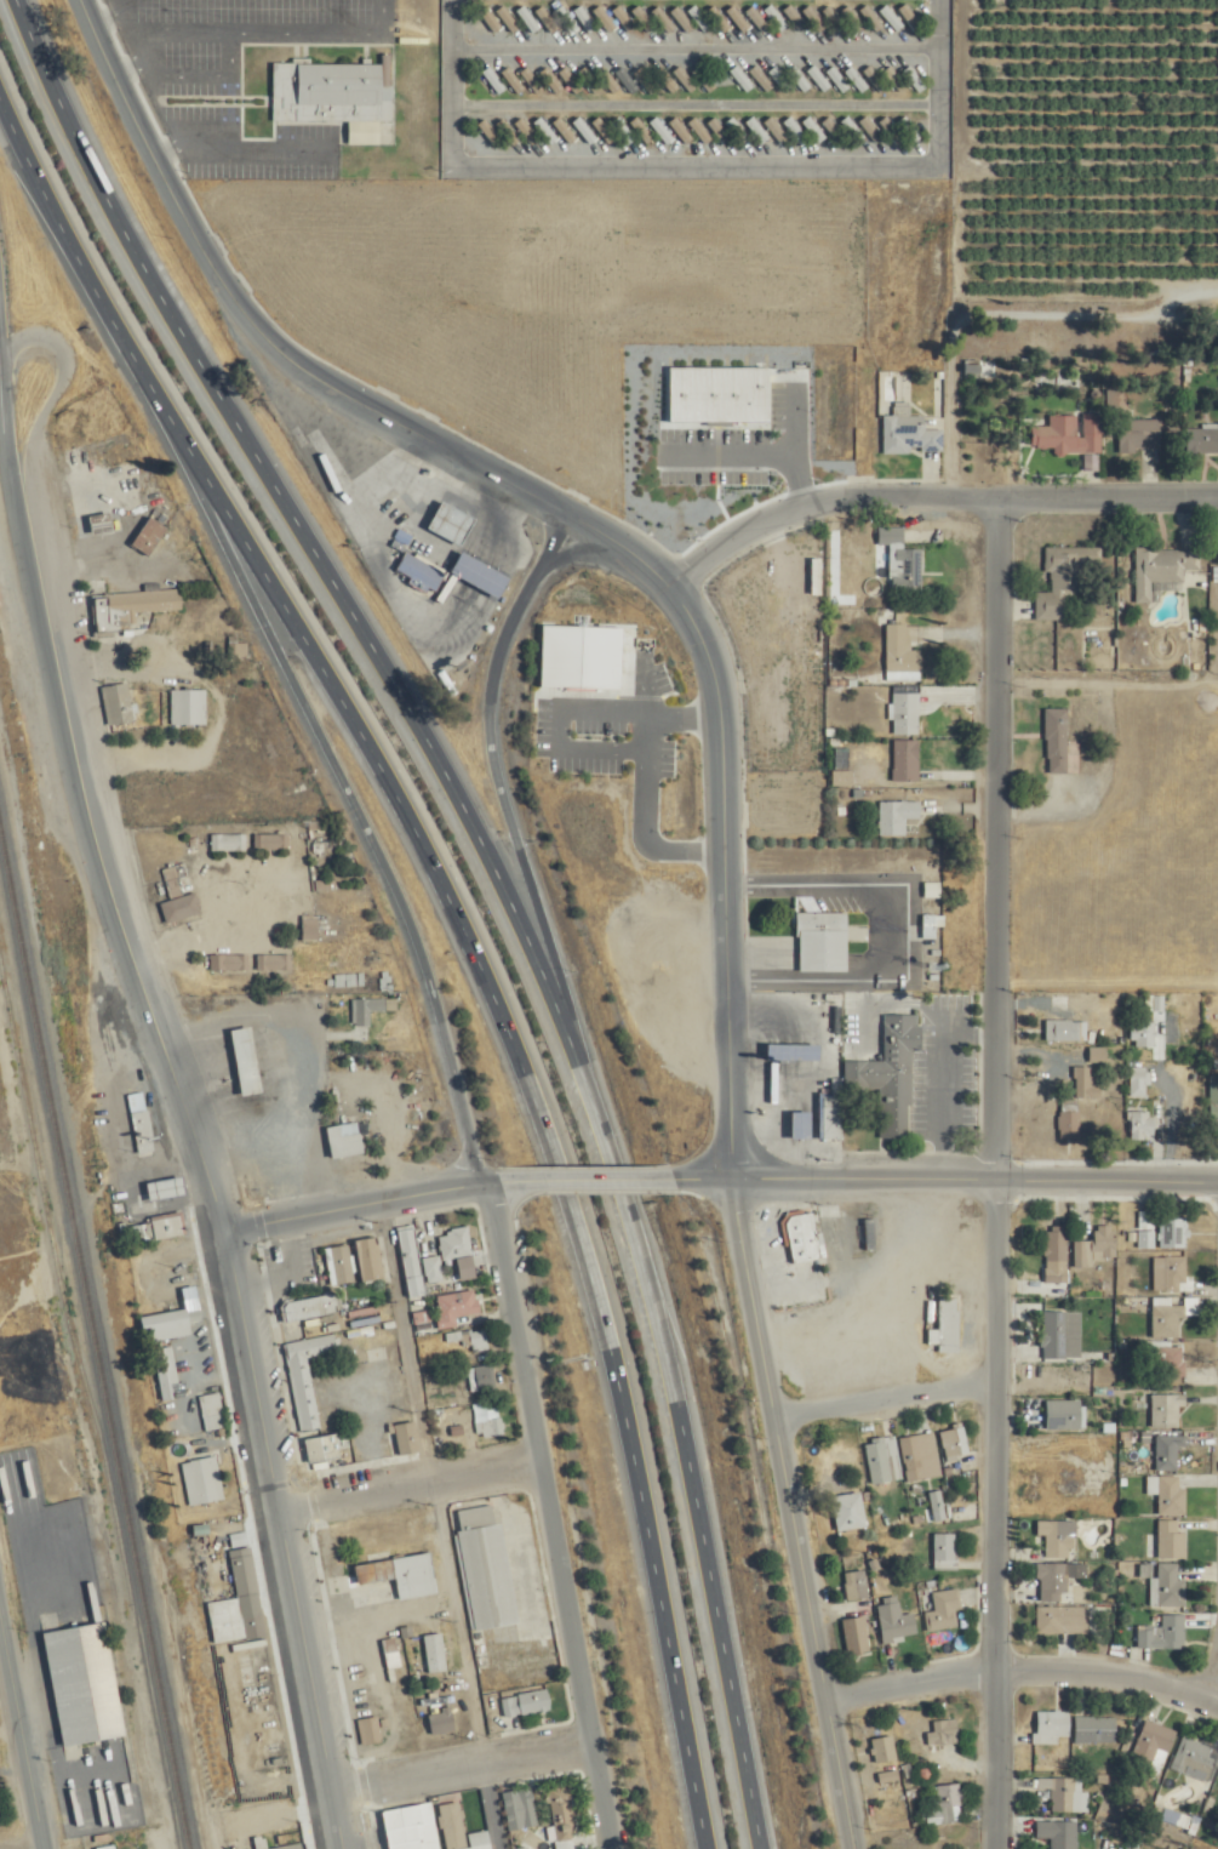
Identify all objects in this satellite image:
building: (777, 17)
building: (699, 18)
building: (740, 28)
building: (743, 79)
building: (858, 79)
crop: (1099, 85)
park: (280, 89)
building: (333, 92)
building: (776, 130)
building: (796, 130)
building: (707, 141)
road: (697, 167)
road: (76, 239)
road: (4, 319)
road: (255, 321)
road: (1014, 323)
road: (58, 396)
building: (910, 433)
building: (1138, 435)
building: (1065, 438)
building: (1201, 439)
road: (10, 444)
road: (927, 486)
building: (99, 524)
building: (448, 524)
road: (610, 532)
building: (148, 537)
road: (593, 552)
flagpole: (439, 555)
building: (902, 558)
road: (656, 570)
building: (1162, 570)
building: (419, 571)
building: (475, 576)
building: (1065, 578)
building: (133, 606)
building: (241, 650)
building: (904, 652)
building: (120, 703)
building: (190, 707)
road: (573, 711)
building: (907, 713)
building: (1057, 740)
building: (907, 760)
road: (342, 772)
road: (644, 787)
road: (508, 795)
building: (898, 816)
road: (995, 831)
building: (230, 841)
building: (274, 841)
building: (324, 846)
road: (722, 872)
road: (505, 879)
road: (97, 883)
flagpole: (788, 897)
building: (182, 907)
building: (310, 928)
road: (903, 930)
building: (822, 942)
building: (230, 961)
building: (276, 961)
building: (351, 978)
building: (372, 1009)
building: (1063, 1031)
road: (942, 1034)
building: (1142, 1034)
flagpole: (905, 1043)
building: (789, 1052)
building: (1098, 1054)
building: (244, 1061)
road: (802, 1062)
building: (890, 1074)
road: (526, 1078)
building: (1139, 1078)
building: (1082, 1080)
building: (831, 1115)
building: (1070, 1119)
building: (142, 1124)
building: (797, 1125)
building: (1142, 1125)
building: (343, 1140)
road: (943, 1176)
road: (593, 1180)
road: (499, 1183)
building: (162, 1188)
road: (350, 1204)
building: (158, 1227)
building: (1148, 1229)
building: (1174, 1232)
building: (802, 1237)
building: (456, 1243)
building: (1097, 1248)
building: (1057, 1254)
building: (368, 1260)
building: (411, 1261)
building: (339, 1263)
railway: (62, 1268)
building: (434, 1268)
building: (1176, 1274)
road: (751, 1291)
building: (458, 1307)
building: (310, 1309)
building: (423, 1317)
building: (1171, 1317)
railway: (97, 1323)
building: (949, 1324)
building: (165, 1325)
building: (1062, 1335)
building: (476, 1339)
building: (1168, 1363)
building: (166, 1371)
building: (307, 1376)
building: (491, 1383)
road: (879, 1388)
building: (1167, 1411)
building: (213, 1413)
building: (1063, 1415)
building: (492, 1427)
building: (407, 1438)
building: (955, 1442)
building: (321, 1448)
building: (1168, 1451)
building: (921, 1456)
building: (884, 1460)
road: (402, 1473)
road: (439, 1473)
building: (202, 1482)
building: (1168, 1495)
building: (938, 1505)
building: (848, 1512)
road: (990, 1512)
road: (549, 1516)
building: (1059, 1539)
road: (276, 1540)
building: (1171, 1540)
road: (794, 1550)
building: (947, 1551)
building: (485, 1569)
building: (413, 1576)
building: (1052, 1582)
building: (856, 1585)
building: (1170, 1586)
building: (239, 1604)
building: (943, 1609)
building: (1063, 1620)
building: (897, 1622)
building: (1163, 1633)
building: (856, 1634)
building: (435, 1653)
building: (393, 1654)
road: (1019, 1661)
road: (1213, 1668)
building: (81, 1684)
building: (527, 1704)
building: (442, 1722)
building: (1051, 1727)
building: (1096, 1729)
building: (371, 1730)
building: (944, 1733)
building: (1155, 1745)
road: (18, 1746)
building: (884, 1750)
road: (456, 1756)
building: (1197, 1758)
road: (836, 1770)
building: (892, 1780)
building: (1063, 1794)
road: (490, 1801)
building: (945, 1803)
building: (522, 1809)
building: (564, 1817)
building: (429, 1828)
building: (1059, 1833)
road: (18, 1842)
building: (295, 1847)

